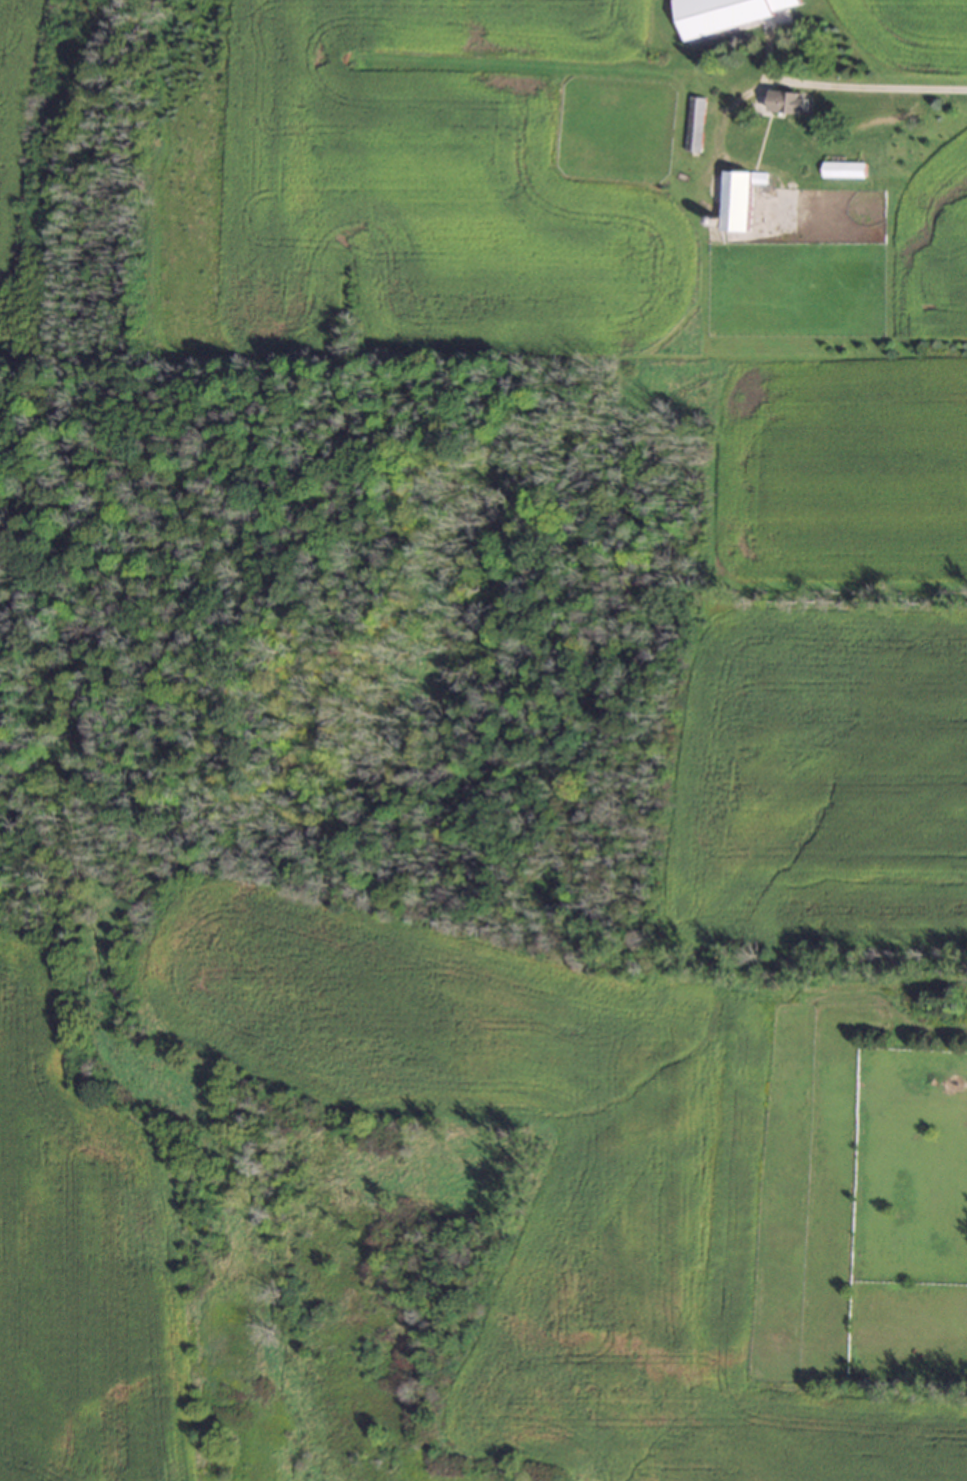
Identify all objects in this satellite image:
building: (725, 14)
road: (819, 85)
building: (790, 102)
building: (694, 123)
building: (854, 168)
building: (740, 199)

